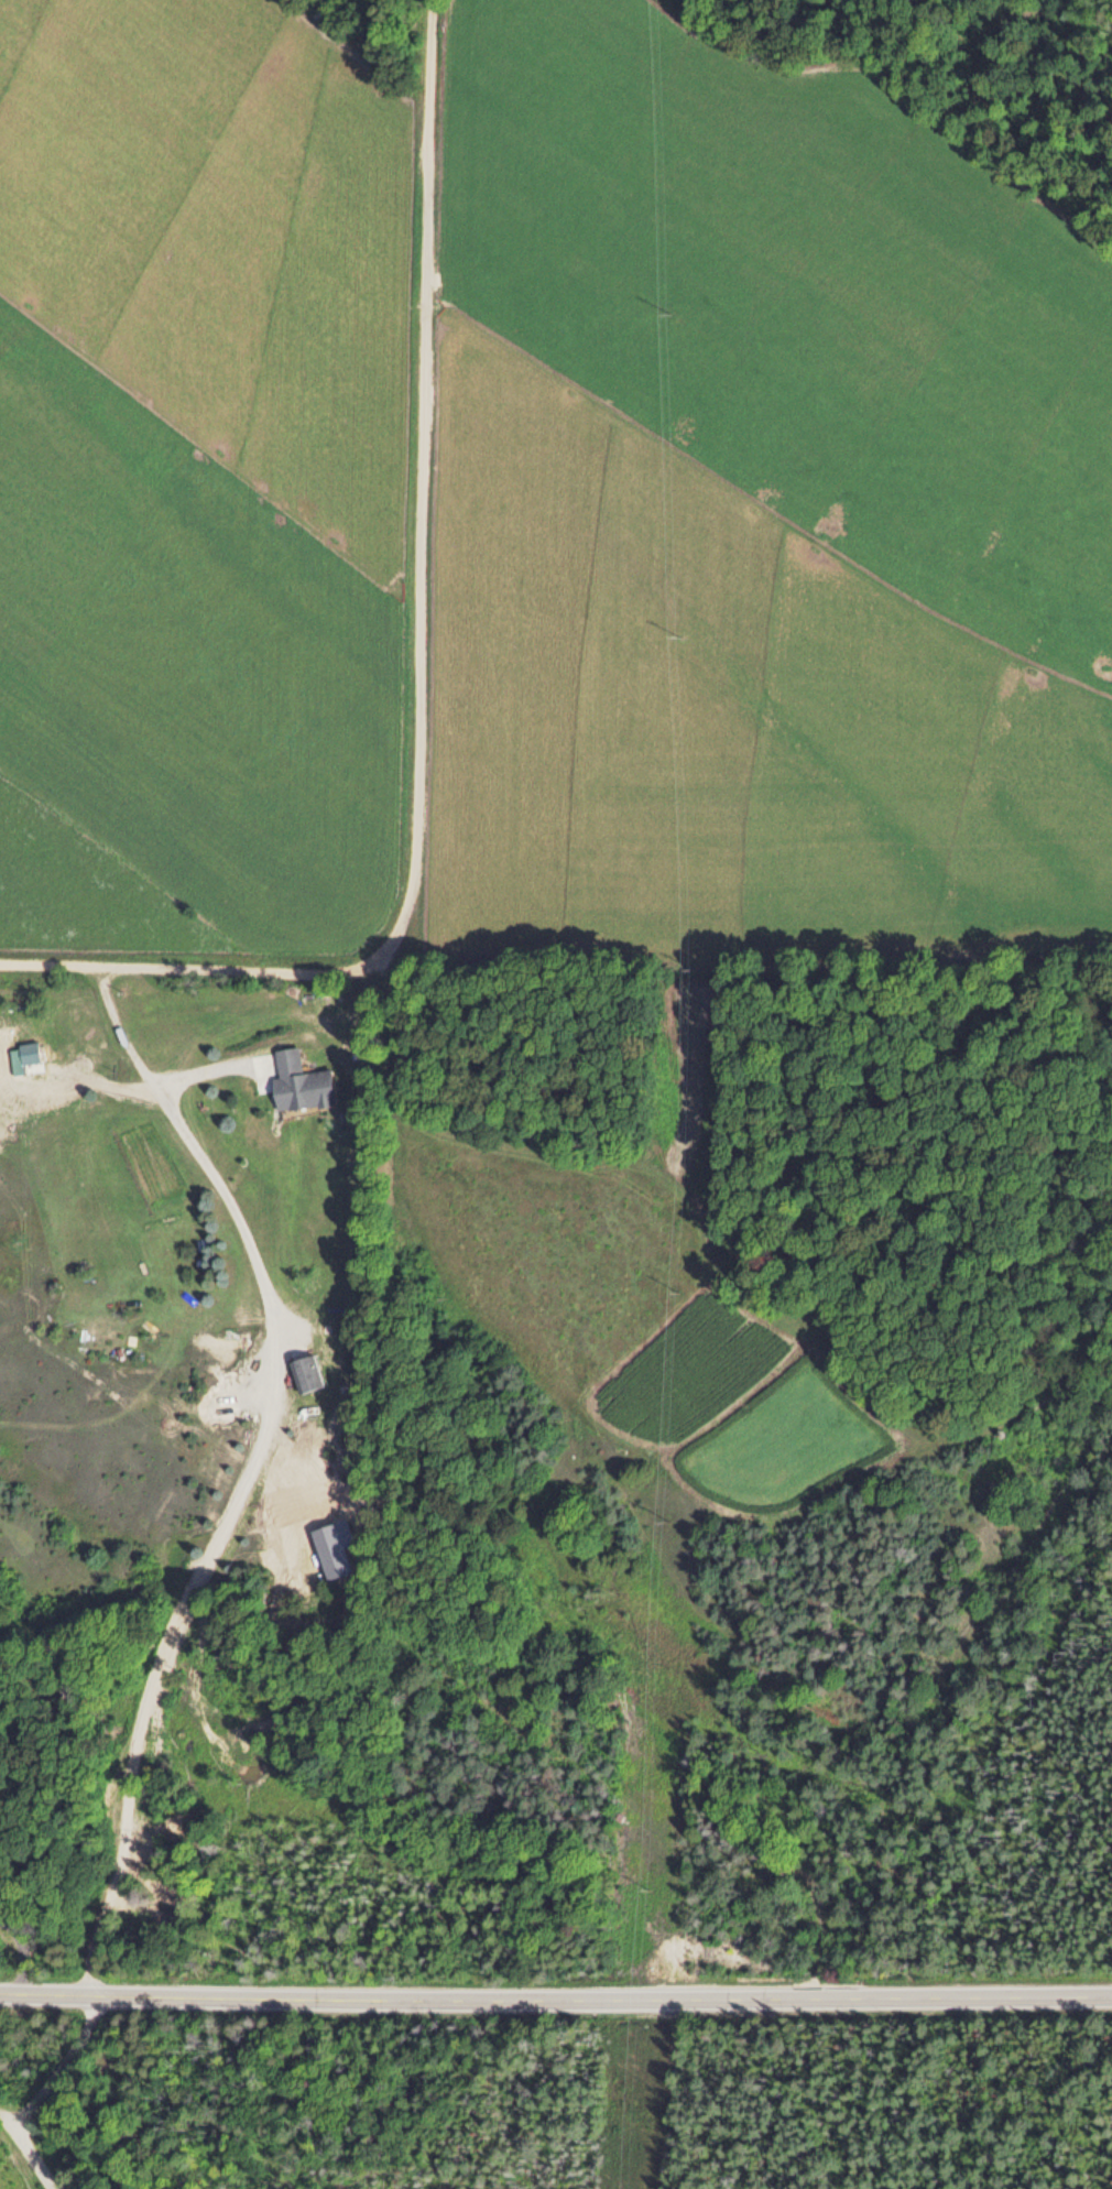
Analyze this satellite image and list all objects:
road: (415, 672)
road: (142, 864)
building: (22, 1054)
building: (298, 1082)
building: (305, 1372)
road: (555, 1999)

